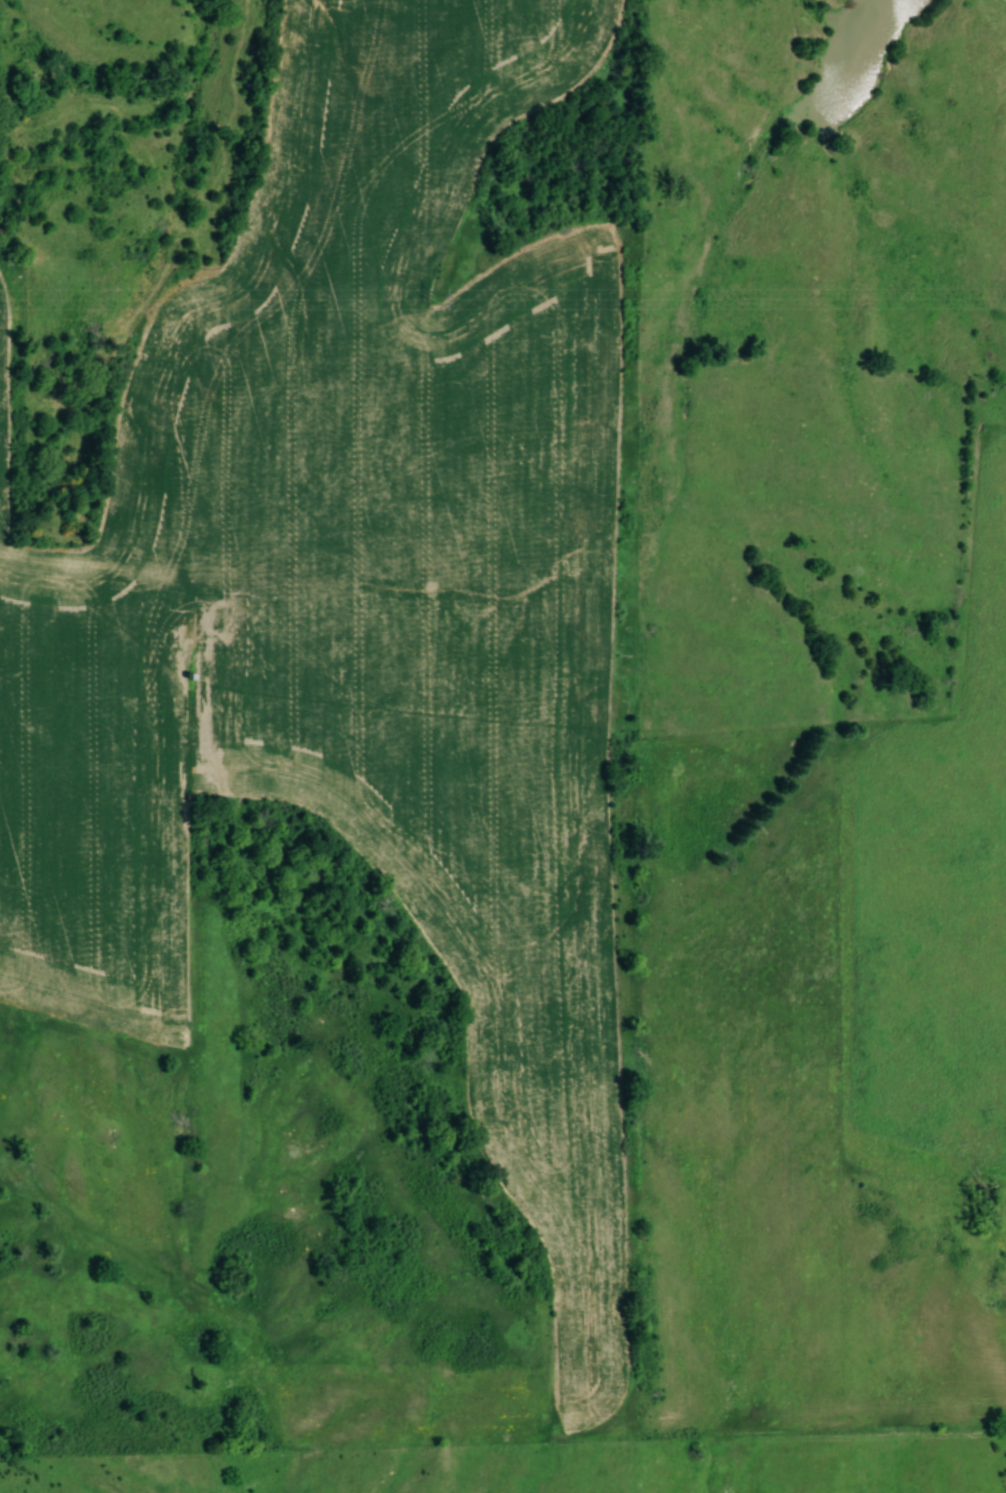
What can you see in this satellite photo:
power tower: (434, 301)

